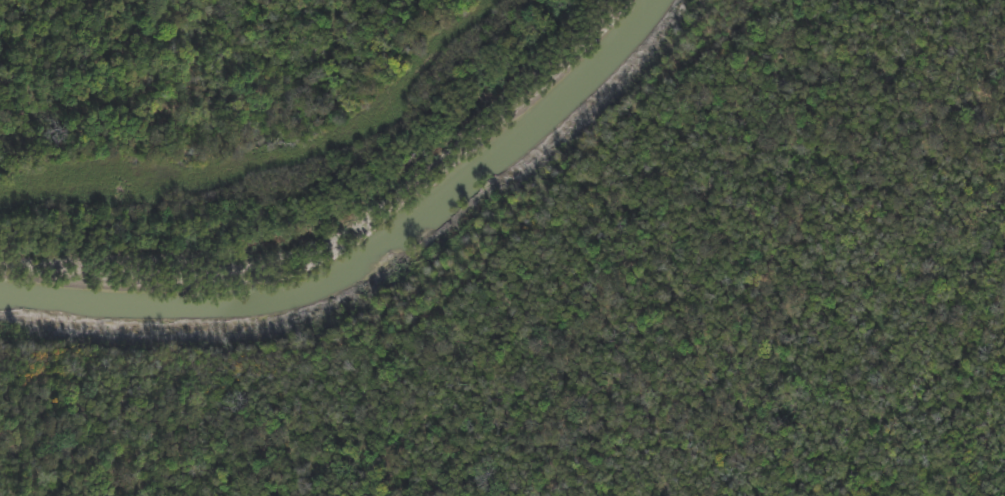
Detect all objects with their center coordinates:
river: (358, 244)

